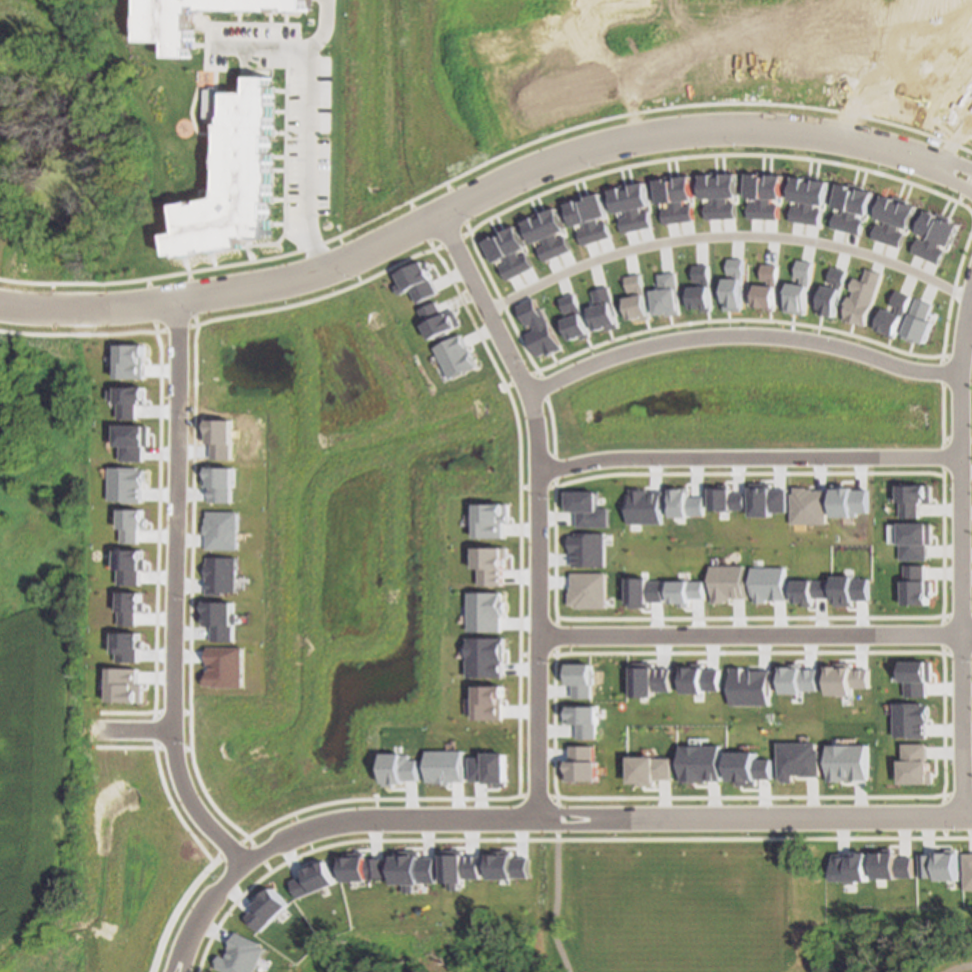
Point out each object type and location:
building: (172, 27)
road: (311, 118)
road: (954, 160)
building: (245, 177)
road: (950, 178)
building: (728, 193)
building: (712, 194)
building: (757, 194)
building: (773, 194)
building: (685, 196)
building: (800, 198)
building: (669, 199)
building: (817, 199)
road: (466, 201)
building: (641, 204)
building: (844, 205)
building: (626, 207)
building: (859, 209)
building: (598, 215)
building: (887, 218)
building: (583, 219)
building: (902, 222)
building: (557, 230)
road: (732, 232)
building: (928, 232)
building: (0, 236)
building: (542, 237)
building: (942, 238)
building: (517, 248)
building: (503, 255)
building: (420, 281)
building: (735, 285)
building: (702, 288)
building: (768, 288)
building: (800, 288)
building: (833, 292)
building: (668, 295)
building: (639, 297)
building: (863, 297)
road: (489, 300)
building: (606, 310)
building: (895, 313)
building: (577, 318)
building: (440, 320)
building: (919, 322)
building: (541, 329)
road: (741, 334)
building: (457, 356)
building: (131, 361)
building: (128, 399)
building: (222, 437)
building: (133, 441)
road: (748, 458)
building: (222, 483)
building: (126, 484)
building: (914, 498)
building: (725, 499)
building: (766, 499)
building: (849, 501)
building: (684, 503)
building: (644, 506)
building: (809, 506)
building: (588, 509)
building: (491, 519)
building: (133, 524)
building: (224, 530)
building: (915, 540)
building: (587, 549)
road: (960, 556)
building: (490, 564)
building: (132, 566)
building: (224, 575)
building: (727, 582)
building: (768, 584)
building: (916, 585)
building: (587, 590)
building: (809, 590)
building: (849, 590)
building: (644, 591)
building: (685, 591)
road: (173, 592)
road: (537, 602)
building: (132, 608)
building: (486, 611)
building: (223, 619)
road: (754, 633)
building: (131, 646)
building: (487, 656)
building: (228, 667)
building: (916, 677)
building: (650, 679)
building: (700, 679)
building: (797, 679)
building: (845, 679)
building: (582, 680)
building: (128, 685)
building: (749, 686)
building: (491, 702)
building: (584, 719)
building: (910, 720)
road: (141, 727)
building: (798, 760)
building: (848, 762)
building: (584, 763)
building: (701, 763)
building: (915, 764)
building: (446, 766)
building: (748, 767)
building: (400, 768)
building: (491, 769)
building: (650, 769)
road: (944, 773)
road: (634, 797)
road: (538, 816)
road: (627, 838)
building: (889, 865)
building: (937, 865)
building: (508, 866)
building: (361, 867)
building: (459, 867)
building: (849, 867)
building: (412, 868)
building: (966, 871)
building: (313, 880)
road: (560, 904)
building: (267, 909)
park: (676, 915)
building: (243, 955)
road: (962, 970)

